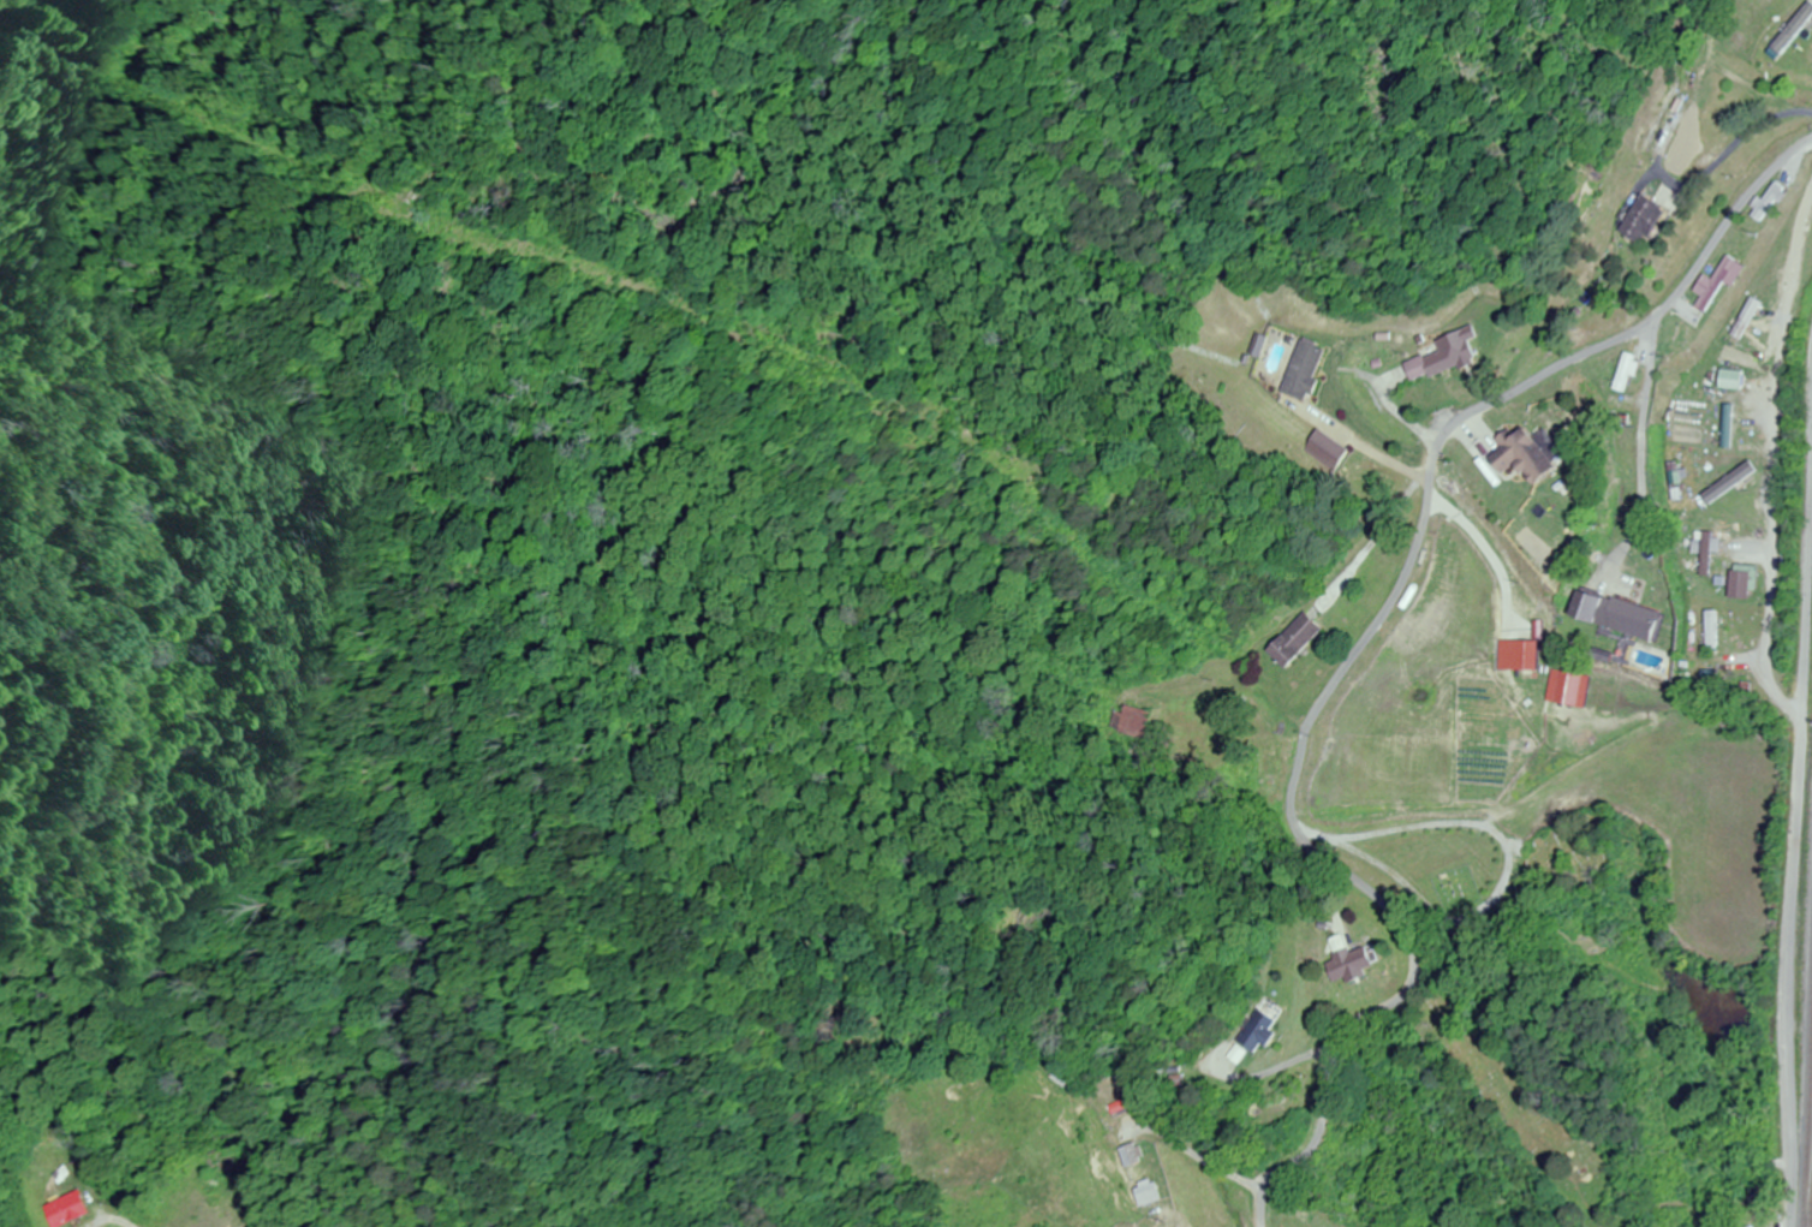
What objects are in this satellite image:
building: (1656, 220)
building: (1721, 281)
building: (1460, 355)
building: (1309, 370)
building: (1628, 371)
building: (1729, 380)
building: (1334, 446)
building: (1536, 455)
building: (1677, 481)
building: (1727, 482)
building: (1711, 552)
building: (1621, 614)
building: (1716, 630)
road: (1360, 637)
building: (1300, 639)
building: (1533, 656)
building: (1133, 721)
road: (1794, 844)
building: (1357, 960)
building: (1266, 1032)
building: (1065, 1078)
railway: (1805, 1104)
building: (1131, 1160)
railway: (1806, 1171)
railway: (1810, 1186)
building: (1152, 1193)
building: (66, 1209)
road: (107, 1220)

